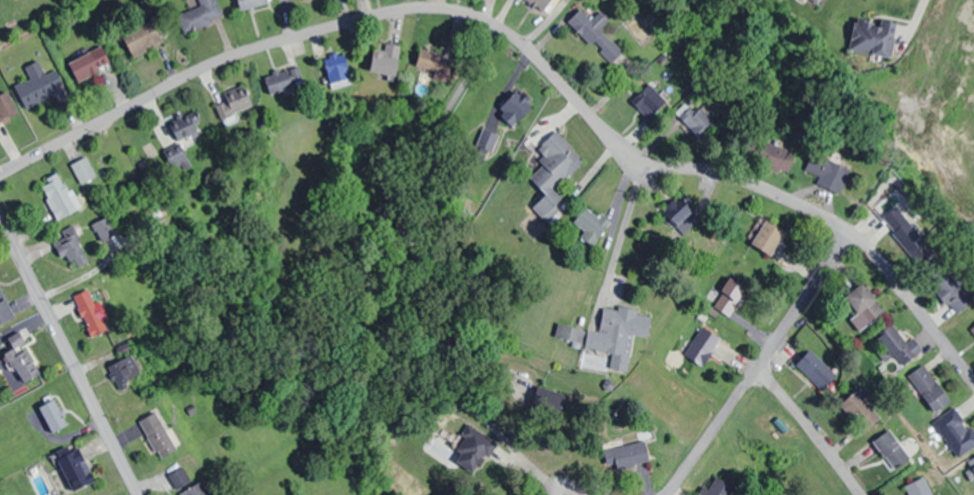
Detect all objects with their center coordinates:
building: (539, 4)
building: (198, 16)
building: (597, 36)
building: (141, 39)
building: (873, 39)
road: (528, 51)
building: (386, 61)
building: (88, 64)
building: (436, 64)
building: (337, 71)
building: (278, 82)
building: (34, 86)
building: (650, 101)
building: (233, 103)
building: (3, 108)
building: (511, 113)
building: (699, 123)
building: (182, 138)
building: (778, 158)
building: (83, 170)
building: (554, 172)
building: (833, 177)
building: (59, 195)
building: (679, 210)
building: (590, 226)
building: (104, 228)
building: (904, 228)
building: (769, 236)
building: (70, 245)
building: (953, 292)
building: (729, 295)
building: (864, 305)
building: (4, 308)
building: (90, 311)
building: (973, 329)
building: (569, 333)
building: (618, 333)
building: (897, 343)
building: (703, 345)
road: (771, 347)
road: (67, 359)
building: (20, 362)
building: (816, 369)
building: (122, 373)
building: (929, 388)
building: (860, 409)
building: (53, 414)
road: (808, 430)
building: (956, 431)
building: (157, 433)
building: (474, 445)
building: (891, 450)
building: (629, 454)
building: (972, 468)
building: (72, 470)
building: (180, 477)
road: (678, 478)
building: (719, 487)
building: (918, 487)
building: (195, 489)
road: (568, 491)

